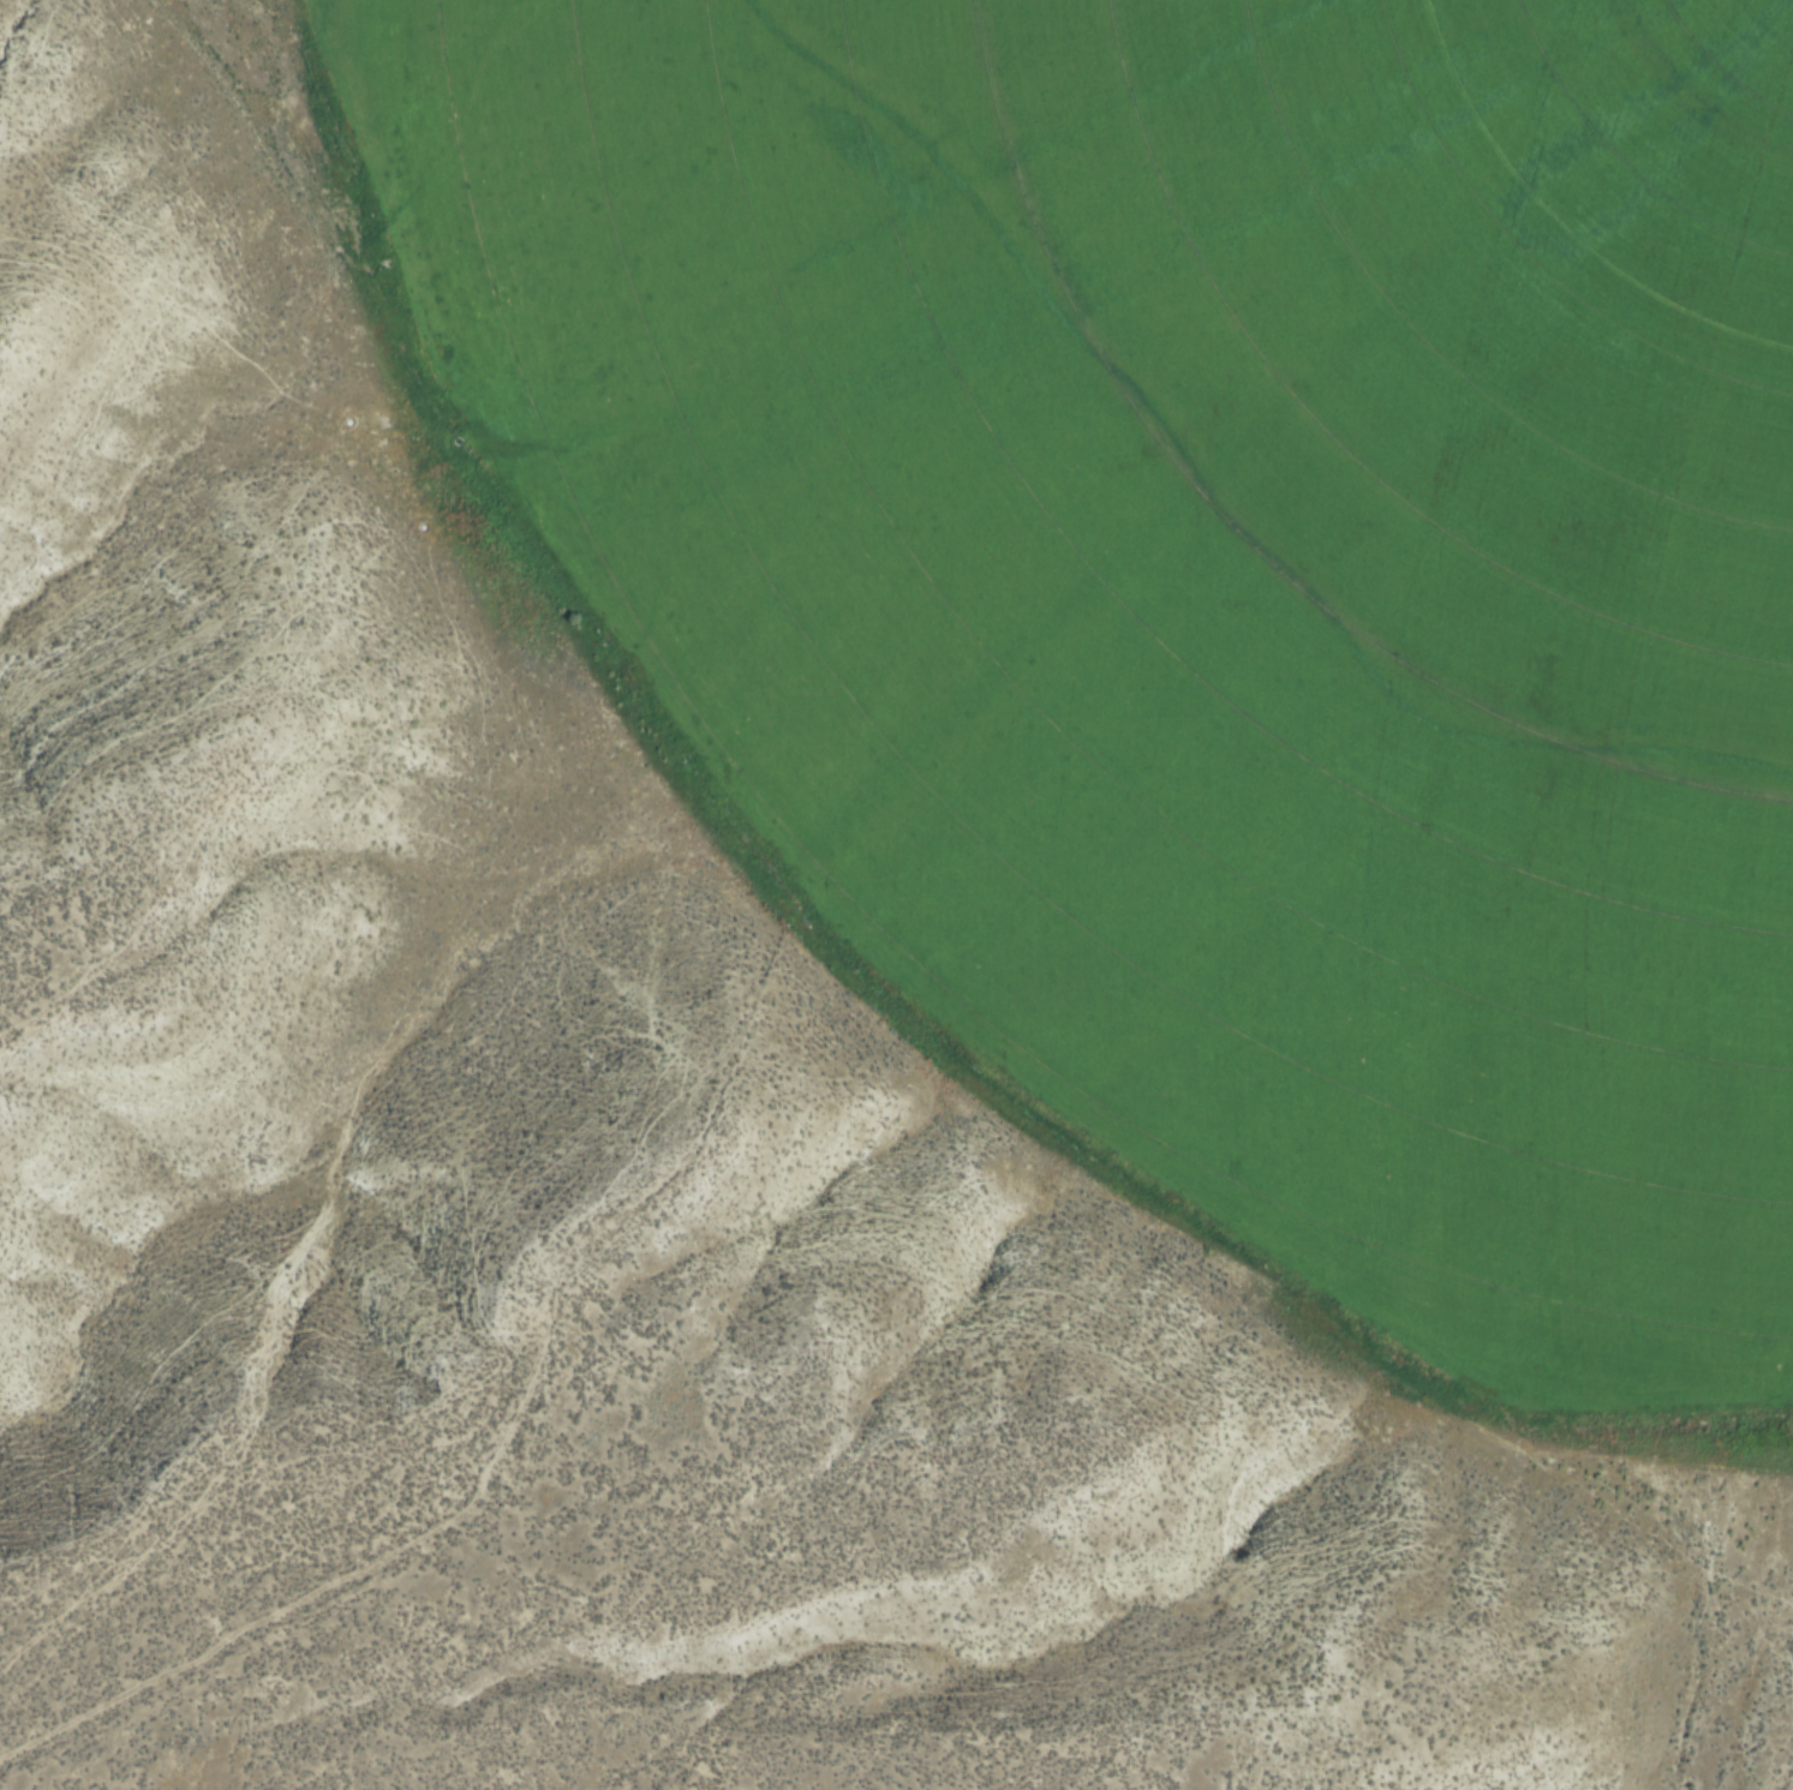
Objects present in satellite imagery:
road: (1072, 1149)
road: (440, 1526)

